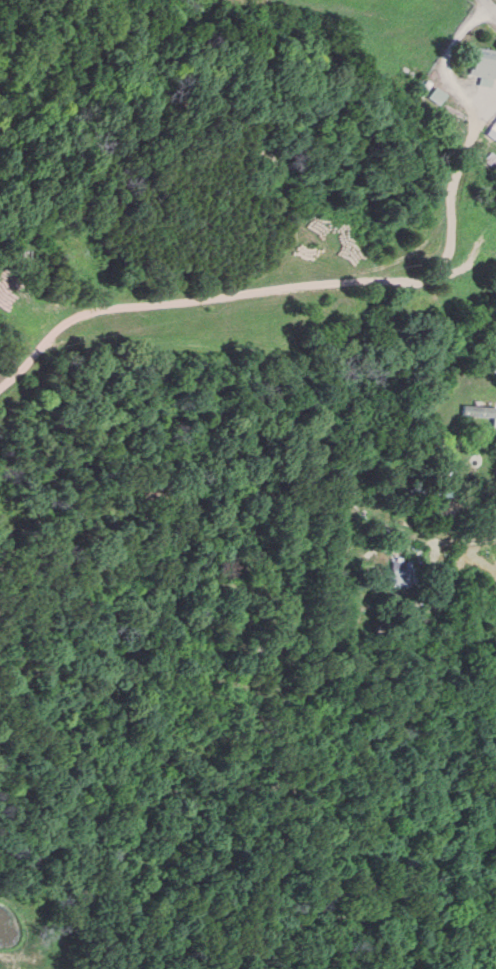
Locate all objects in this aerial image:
road: (488, 7)
road: (443, 56)
building: (481, 62)
building: (435, 94)
building: (492, 128)
road: (296, 286)
building: (481, 397)
building: (470, 457)
building: (395, 573)
building: (426, 592)

